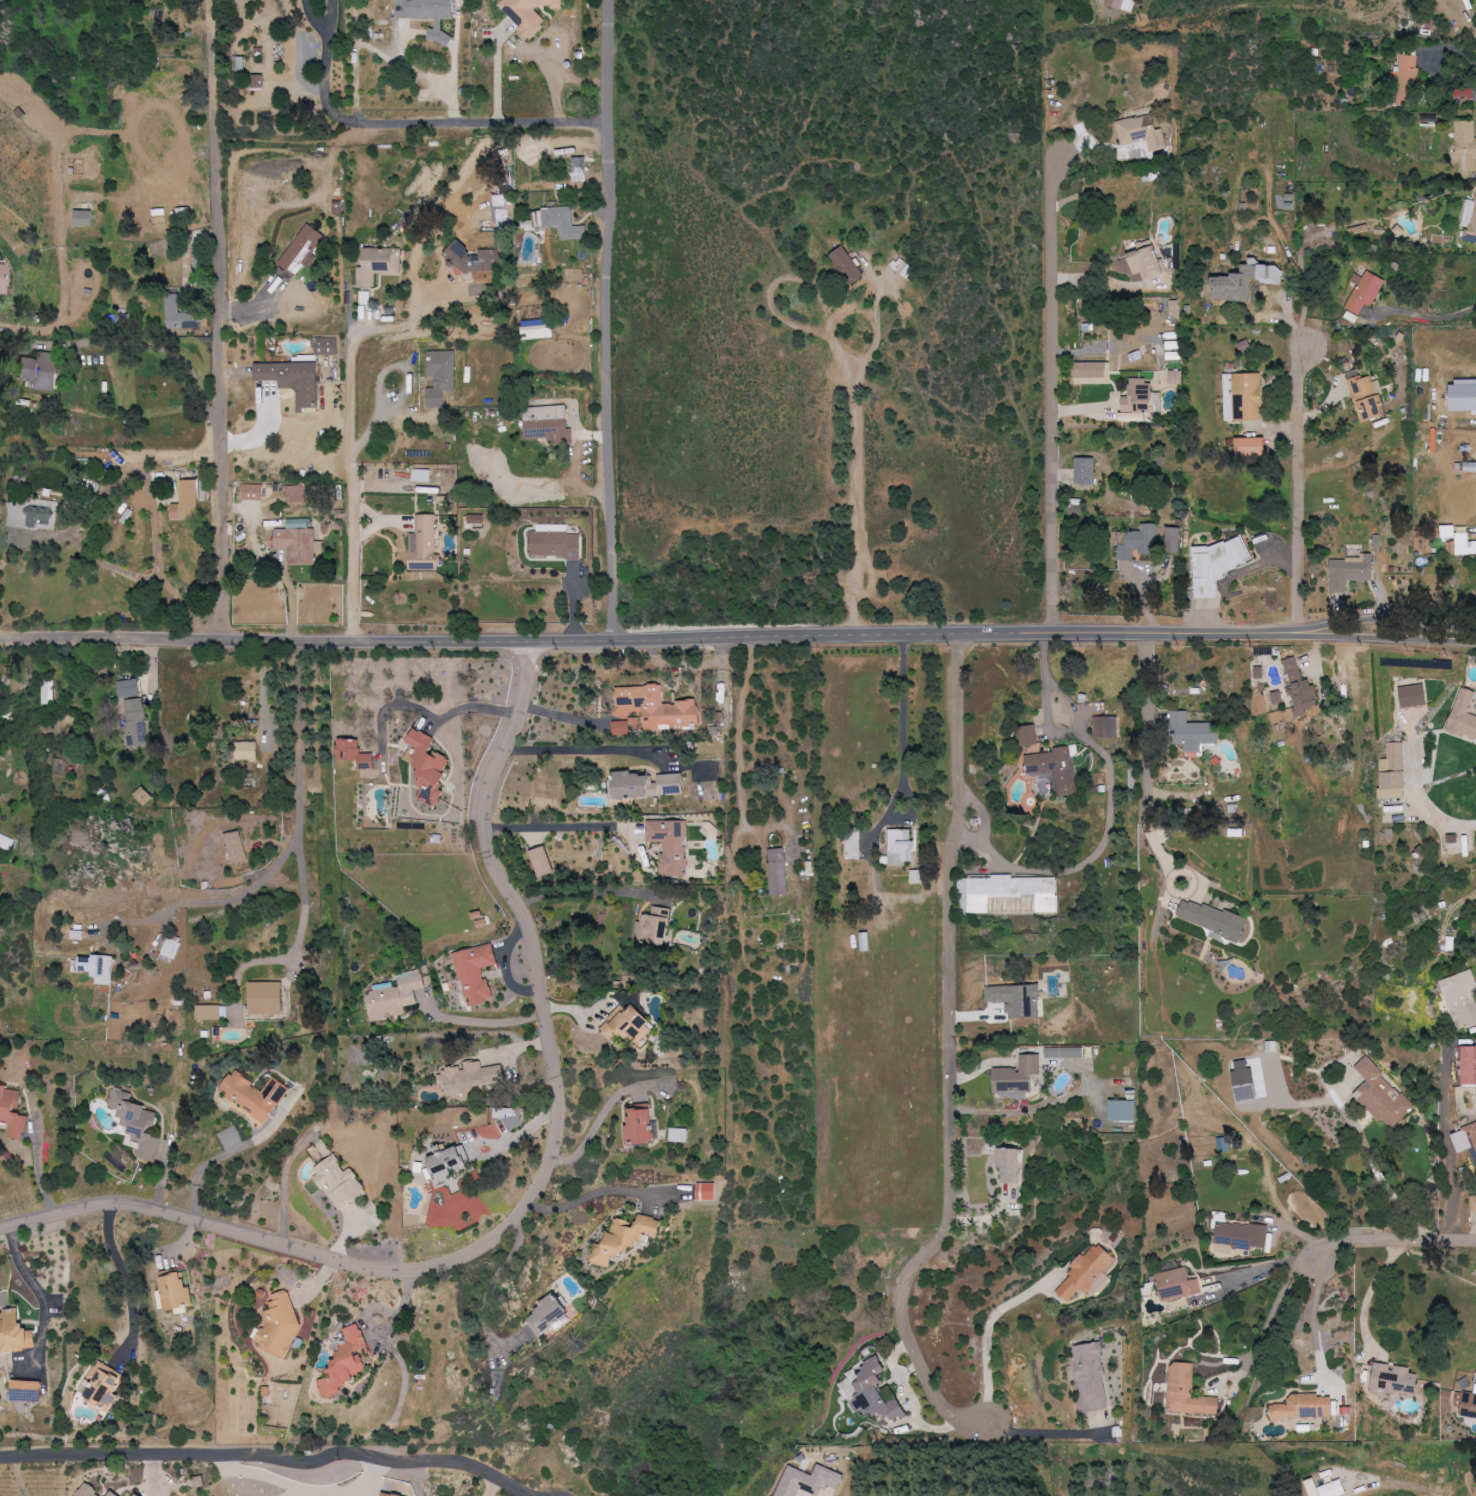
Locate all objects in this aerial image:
building: (1122, 4)
building: (529, 14)
building: (430, 15)
road: (383, 52)
road: (1434, 61)
building: (239, 64)
road: (325, 69)
building: (1406, 80)
building: (257, 81)
building: (1464, 93)
road: (482, 127)
building: (1142, 130)
building: (1466, 146)
building: (579, 169)
building: (502, 210)
building: (84, 218)
building: (560, 222)
building: (1470, 223)
building: (302, 250)
building: (472, 259)
building: (1147, 261)
building: (379, 265)
building: (847, 265)
building: (903, 266)
building: (2, 278)
building: (1245, 281)
road: (1101, 283)
building: (1365, 292)
building: (366, 298)
building: (180, 315)
road: (1430, 315)
road: (221, 320)
road: (609, 320)
road: (878, 323)
building: (536, 329)
building: (327, 346)
building: (1172, 356)
building: (40, 370)
building: (1090, 373)
building: (441, 377)
building: (1176, 377)
building: (296, 378)
road: (852, 391)
road: (1054, 396)
building: (1139, 397)
building: (1244, 397)
building: (1367, 397)
building: (548, 424)
road: (351, 427)
road: (263, 432)
building: (1251, 447)
road: (1303, 465)
building: (1470, 467)
building: (1086, 471)
building: (420, 475)
building: (254, 492)
building: (297, 494)
building: (187, 501)
building: (32, 514)
building: (475, 518)
building: (552, 528)
building: (1451, 535)
building: (1174, 540)
building: (299, 541)
building: (1141, 542)
building: (424, 545)
building: (556, 545)
building: (1466, 545)
building: (1221, 558)
building: (1350, 572)
building: (1207, 588)
road: (737, 640)
building: (129, 688)
building: (1301, 689)
building: (48, 691)
building: (1413, 696)
building: (1278, 697)
building: (657, 707)
road: (471, 708)
building: (1464, 715)
road: (568, 718)
building: (136, 723)
building: (625, 726)
building: (1106, 727)
road: (899, 728)
road: (1050, 733)
building: (1194, 733)
building: (1030, 736)
road: (581, 748)
building: (246, 751)
road: (1145, 753)
building: (355, 754)
building: (428, 766)
building: (1393, 767)
building: (1056, 769)
road: (300, 770)
building: (645, 785)
building: (1393, 794)
building: (144, 796)
road: (1435, 816)
road: (983, 817)
road: (558, 826)
building: (1452, 839)
building: (4, 843)
building: (671, 845)
building: (852, 845)
building: (901, 847)
road: (992, 849)
road: (1095, 852)
building: (542, 862)
building: (778, 872)
building: (916, 877)
building: (1008, 891)
road: (582, 892)
road: (157, 915)
building: (1214, 919)
road: (958, 932)
building: (77, 934)
building: (866, 942)
road: (720, 948)
building: (169, 950)
building: (97, 967)
building: (476, 972)
building: (395, 996)
building: (267, 997)
building: (1462, 997)
building: (1017, 999)
building: (210, 1012)
road: (478, 1019)
building: (630, 1021)
building: (1064, 1052)
building: (1467, 1064)
building: (471, 1077)
building: (1018, 1077)
building: (1247, 1084)
building: (256, 1094)
building: (1381, 1095)
building: (1123, 1110)
building: (13, 1111)
building: (506, 1111)
road: (603, 1112)
building: (137, 1123)
building: (641, 1125)
building: (678, 1135)
building: (1466, 1138)
road: (503, 1147)
road: (226, 1153)
building: (1010, 1164)
building: (450, 1166)
road: (1377, 1166)
road: (38, 1173)
building: (339, 1182)
road: (285, 1183)
road: (534, 1190)
building: (706, 1191)
road: (593, 1193)
building: (1473, 1203)
building: (1240, 1237)
building: (625, 1238)
road: (1330, 1247)
building: (1086, 1272)
road: (128, 1281)
road: (493, 1283)
building: (1178, 1284)
road: (39, 1288)
building: (176, 1289)
road: (1370, 1293)
building: (548, 1315)
road: (1314, 1315)
building: (280, 1325)
road: (988, 1326)
building: (15, 1332)
road: (905, 1334)
road: (385, 1335)
building: (346, 1362)
building: (1092, 1377)
building: (1393, 1379)
building: (104, 1383)
building: (28, 1390)
building: (872, 1391)
building: (1189, 1392)
building: (0, 1397)
building: (1469, 1404)
building: (1305, 1407)
road: (1044, 1432)
road: (270, 1455)
building: (199, 1481)
building: (808, 1481)
building: (1334, 1488)
road: (303, 1489)
building: (88, 1491)
building: (113, 1494)
building: (387, 1494)
building: (137, 1495)

